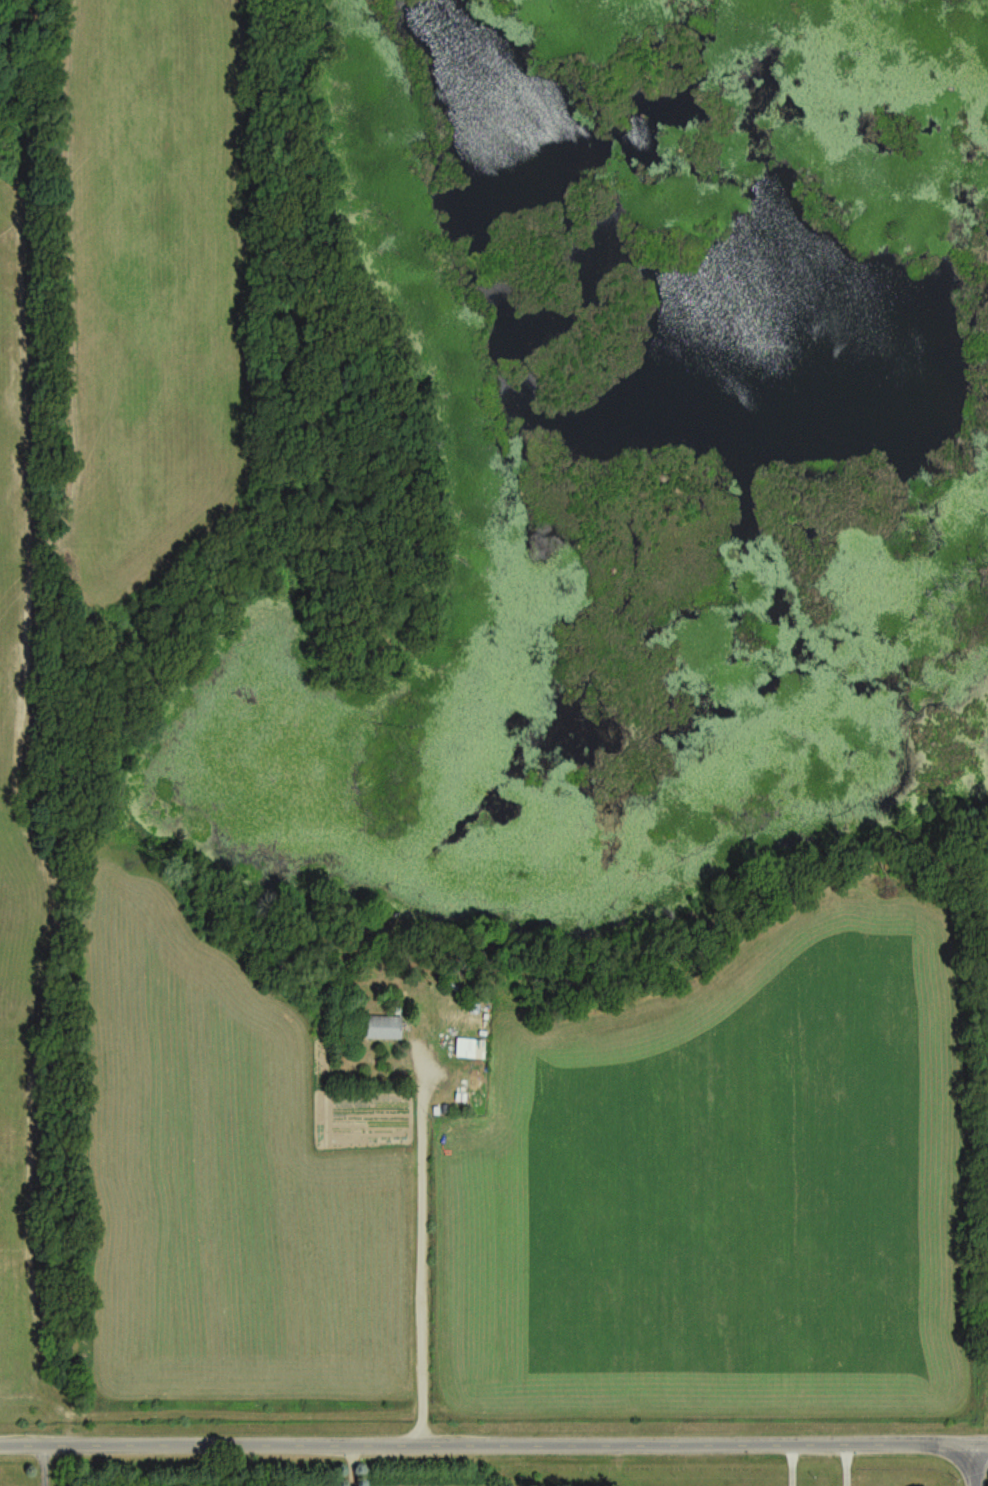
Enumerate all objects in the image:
building: (383, 1030)
building: (470, 1051)
road: (420, 1252)
road: (494, 1440)
road: (790, 1461)
road: (975, 1461)
road: (849, 1462)
road: (44, 1463)
road: (354, 1463)

